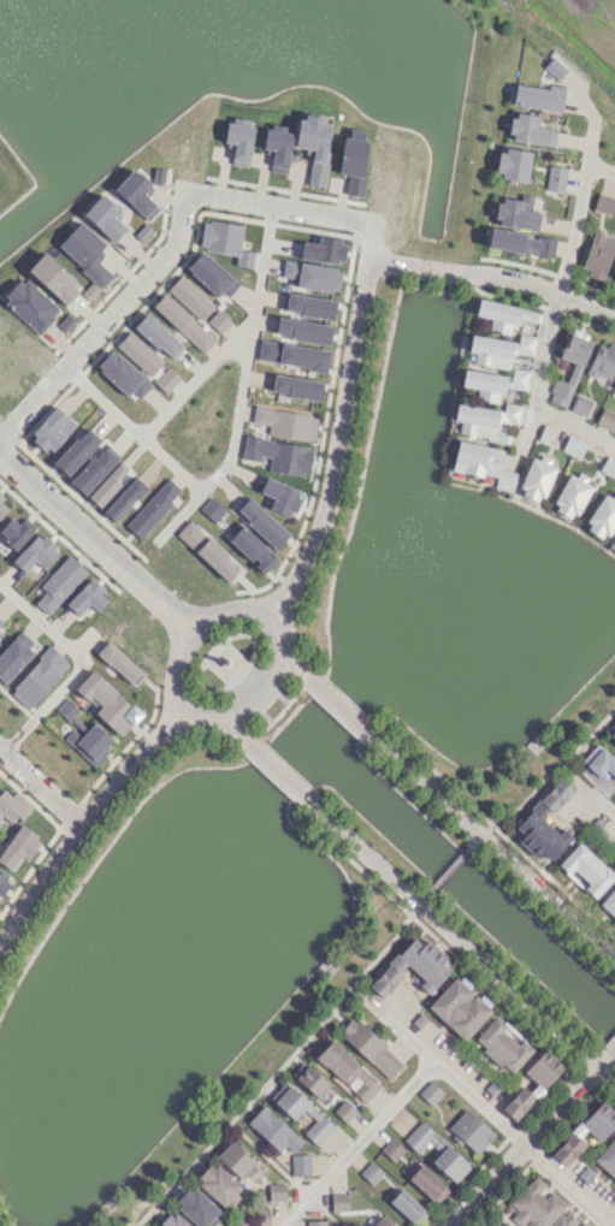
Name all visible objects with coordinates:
building: (554, 66)
building: (537, 96)
building: (530, 130)
building: (238, 142)
building: (313, 143)
building: (277, 148)
building: (353, 164)
building: (511, 164)
road: (599, 168)
building: (158, 176)
building: (555, 177)
building: (136, 194)
building: (603, 202)
road: (277, 206)
road: (576, 211)
building: (513, 213)
building: (104, 217)
road: (369, 239)
building: (224, 241)
building: (520, 242)
building: (597, 254)
building: (85, 256)
building: (211, 274)
building: (312, 276)
building: (53, 278)
building: (189, 297)
building: (30, 303)
building: (308, 306)
road: (356, 314)
building: (502, 315)
road: (107, 320)
building: (65, 321)
building: (218, 321)
building: (182, 322)
building: (302, 330)
building: (158, 334)
building: (138, 353)
building: (291, 355)
building: (603, 360)
building: (495, 365)
road: (539, 366)
building: (574, 371)
building: (123, 374)
building: (166, 379)
road: (190, 383)
building: (614, 385)
building: (295, 386)
building: (580, 404)
building: (605, 417)
building: (484, 420)
building: (285, 422)
road: (573, 426)
building: (51, 428)
road: (231, 439)
building: (573, 446)
building: (76, 450)
building: (278, 455)
building: (480, 463)
building: (608, 467)
building: (93, 469)
building: (534, 480)
building: (107, 485)
building: (280, 496)
building: (569, 497)
building: (124, 498)
building: (2, 507)
building: (153, 507)
road: (183, 508)
building: (211, 509)
building: (601, 517)
building: (261, 522)
building: (16, 531)
road: (94, 539)
building: (611, 543)
building: (252, 549)
building: (207, 550)
building: (35, 552)
building: (58, 582)
building: (87, 597)
road: (35, 612)
building: (0, 623)
building: (13, 656)
building: (119, 663)
road: (294, 667)
building: (37, 676)
road: (260, 695)
road: (51, 699)
building: (107, 703)
road: (339, 709)
road: (232, 730)
building: (613, 736)
building: (90, 741)
building: (599, 763)
road: (279, 774)
road: (41, 786)
road: (599, 802)
building: (11, 805)
road: (83, 823)
building: (542, 824)
building: (18, 846)
road: (495, 847)
building: (585, 871)
building: (2, 878)
building: (609, 904)
road: (463, 946)
building: (409, 964)
building: (457, 1006)
building: (502, 1042)
building: (368, 1046)
road: (603, 1054)
road: (436, 1062)
road: (279, 1066)
building: (345, 1067)
building: (312, 1080)
building: (531, 1082)
building: (430, 1092)
road: (557, 1103)
building: (344, 1110)
building: (313, 1114)
building: (273, 1130)
building: (469, 1130)
building: (597, 1132)
road: (356, 1143)
building: (391, 1149)
building: (444, 1151)
building: (607, 1155)
building: (235, 1157)
building: (300, 1163)
building: (369, 1172)
building: (427, 1183)
building: (218, 1184)
road: (484, 1184)
road: (566, 1184)
building: (276, 1191)
building: (338, 1202)
building: (533, 1204)
building: (196, 1207)
building: (407, 1207)
building: (172, 1220)
building: (564, 1220)
building: (315, 1222)
building: (380, 1222)
building: (487, 1224)
building: (584, 1224)
building: (504, 1225)

